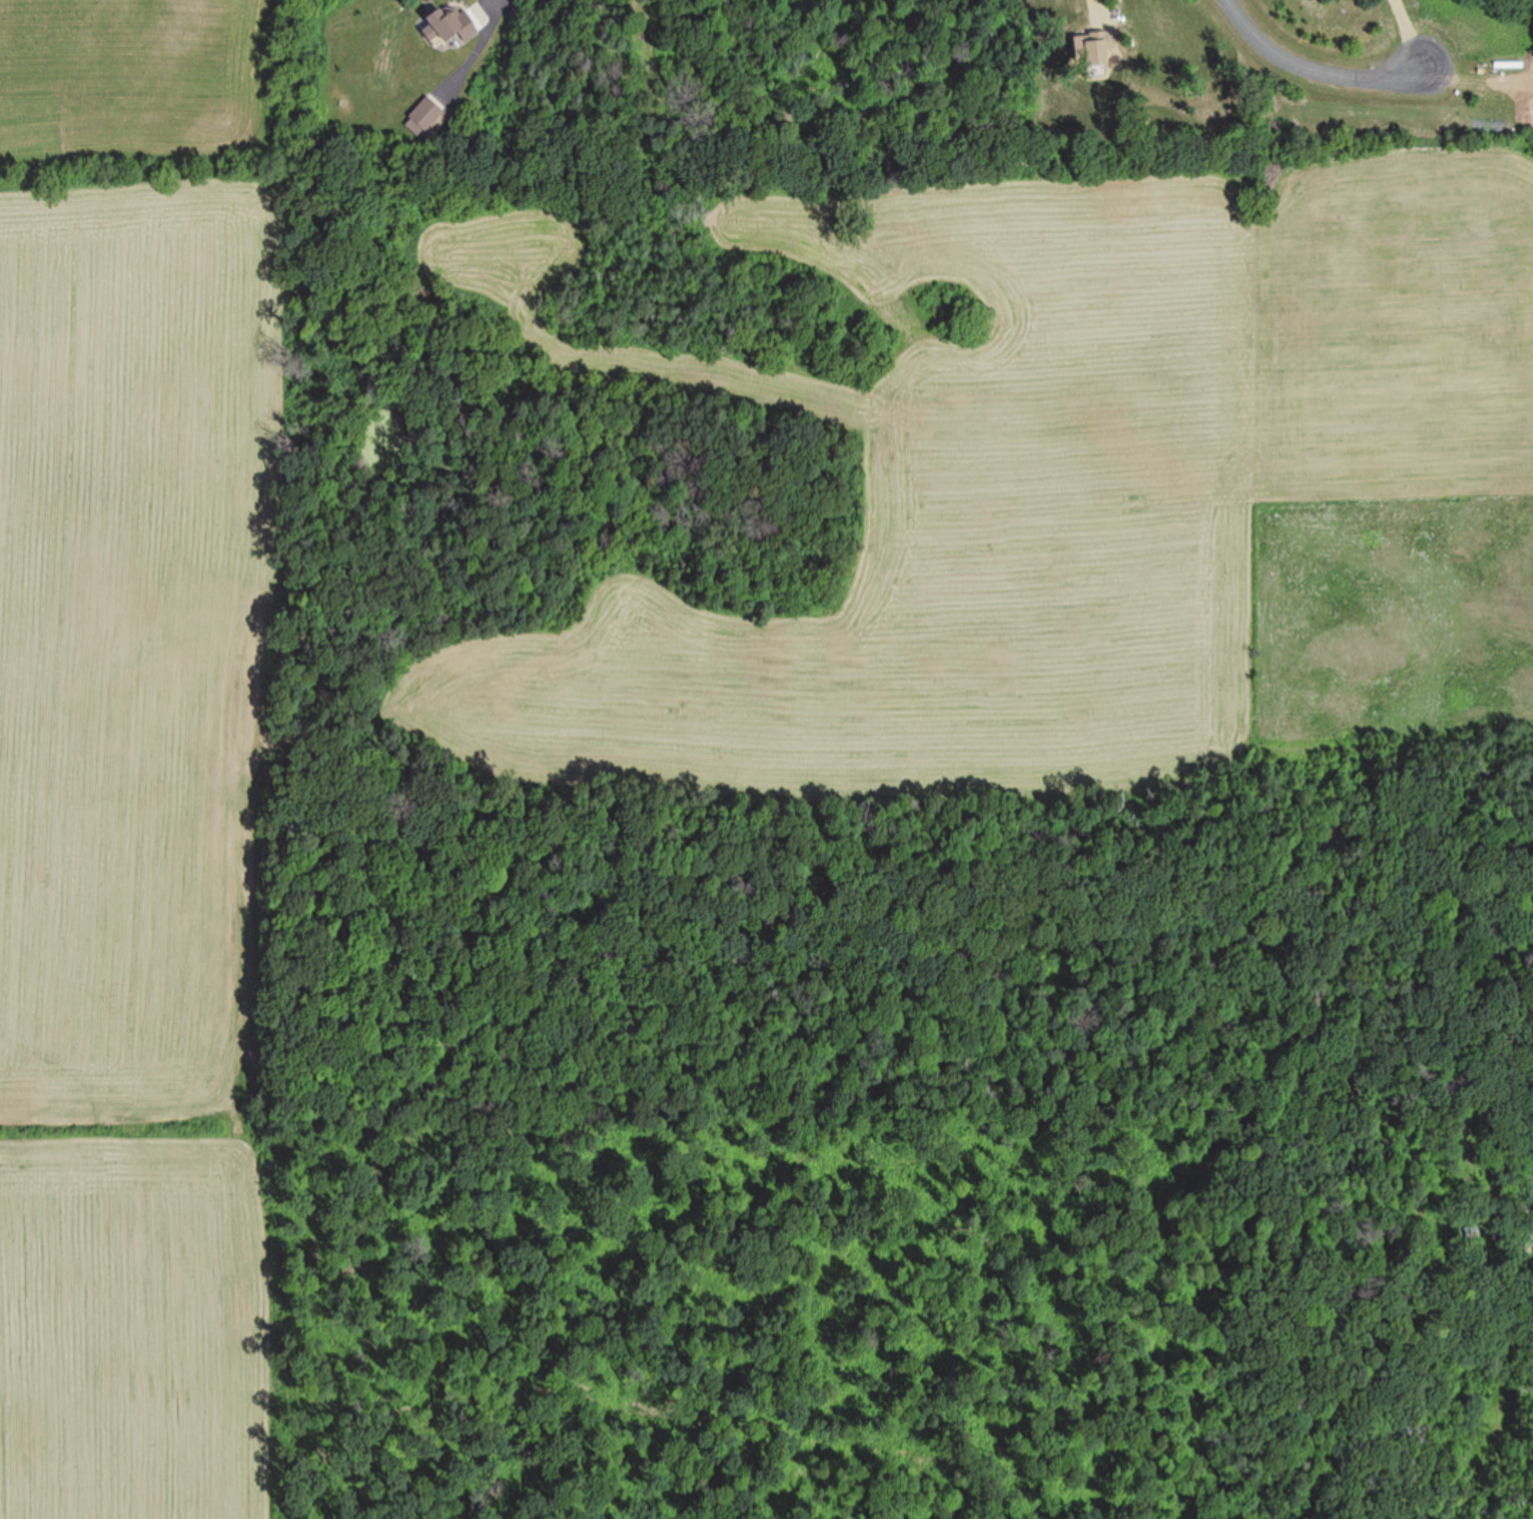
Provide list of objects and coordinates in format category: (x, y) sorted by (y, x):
building: (451, 28)
building: (1089, 53)
road: (1318, 69)
crop: (146, 86)
building: (428, 114)

